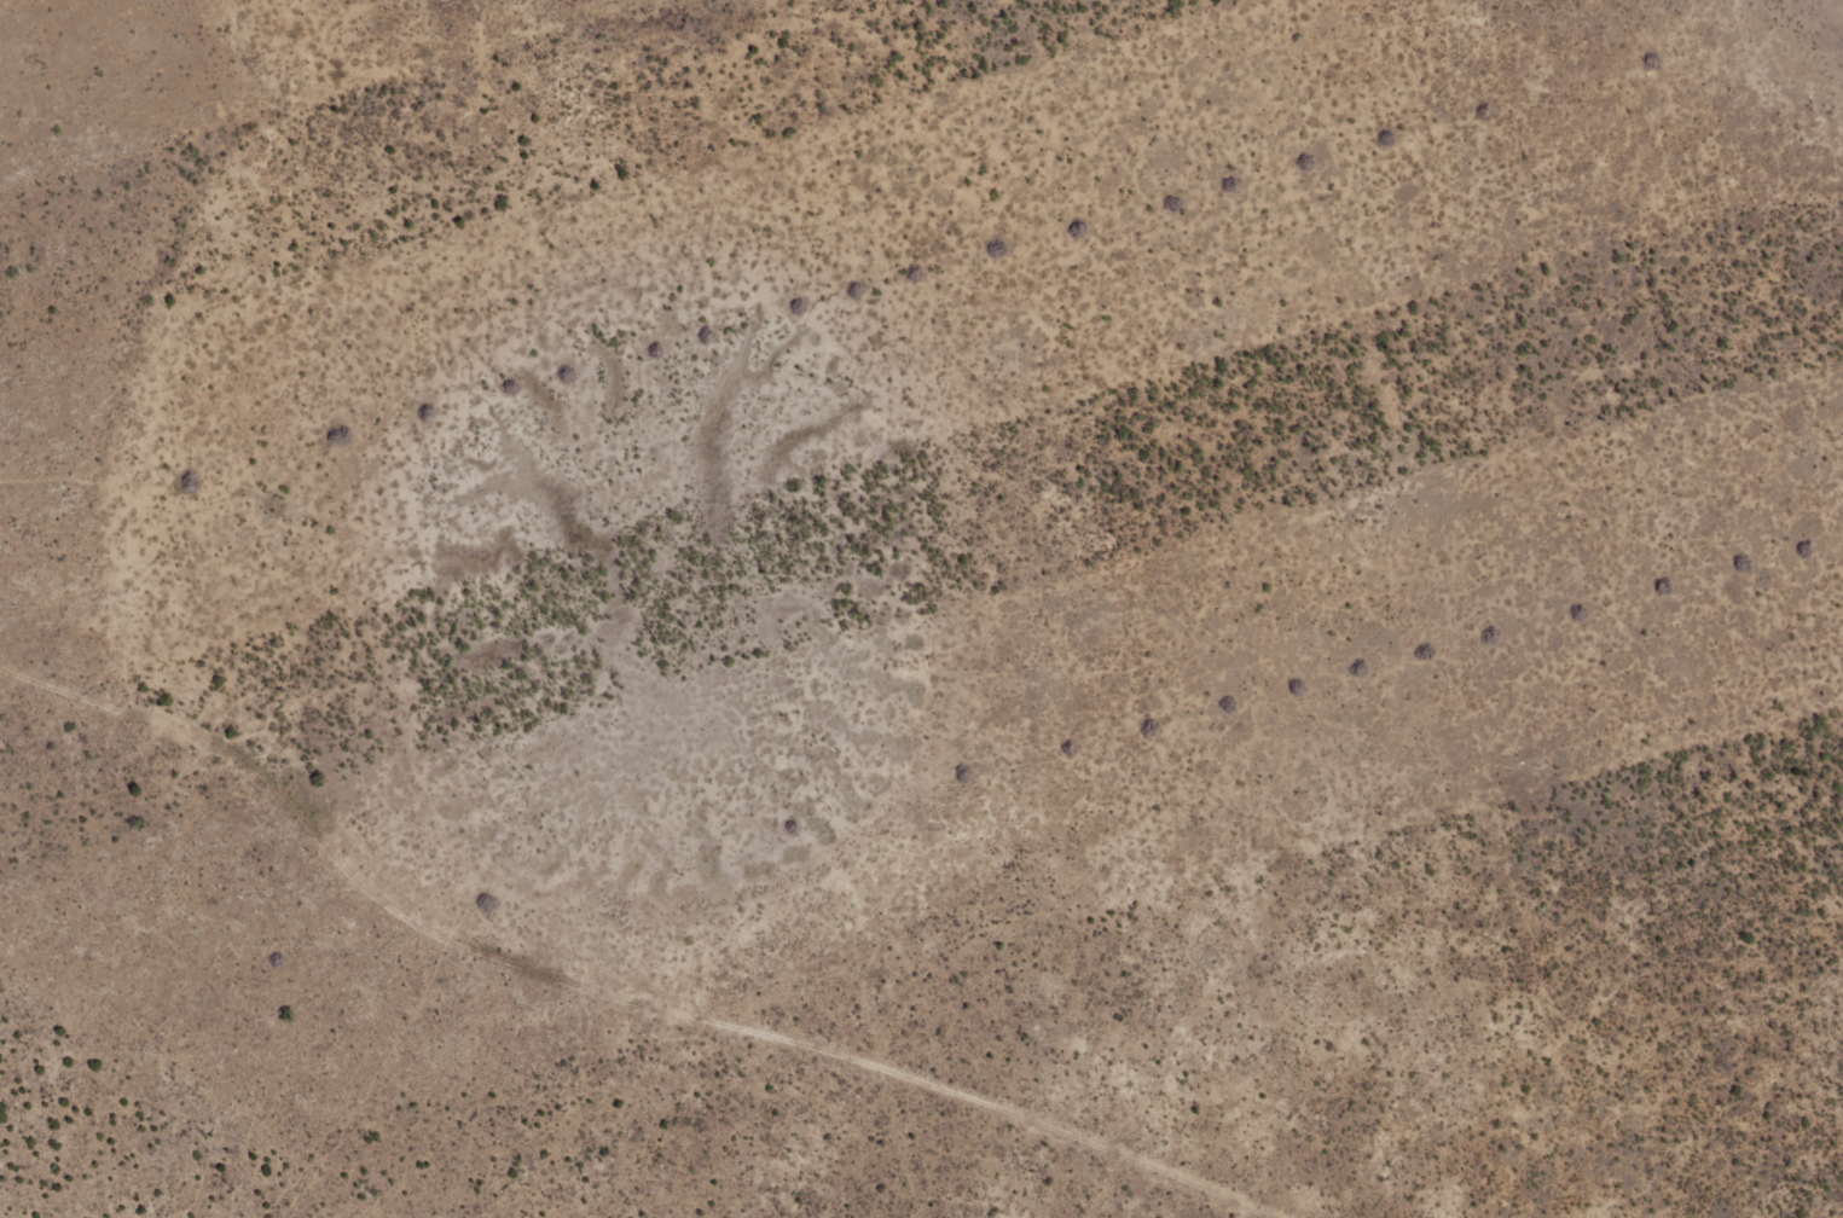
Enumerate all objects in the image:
road: (653, 920)

